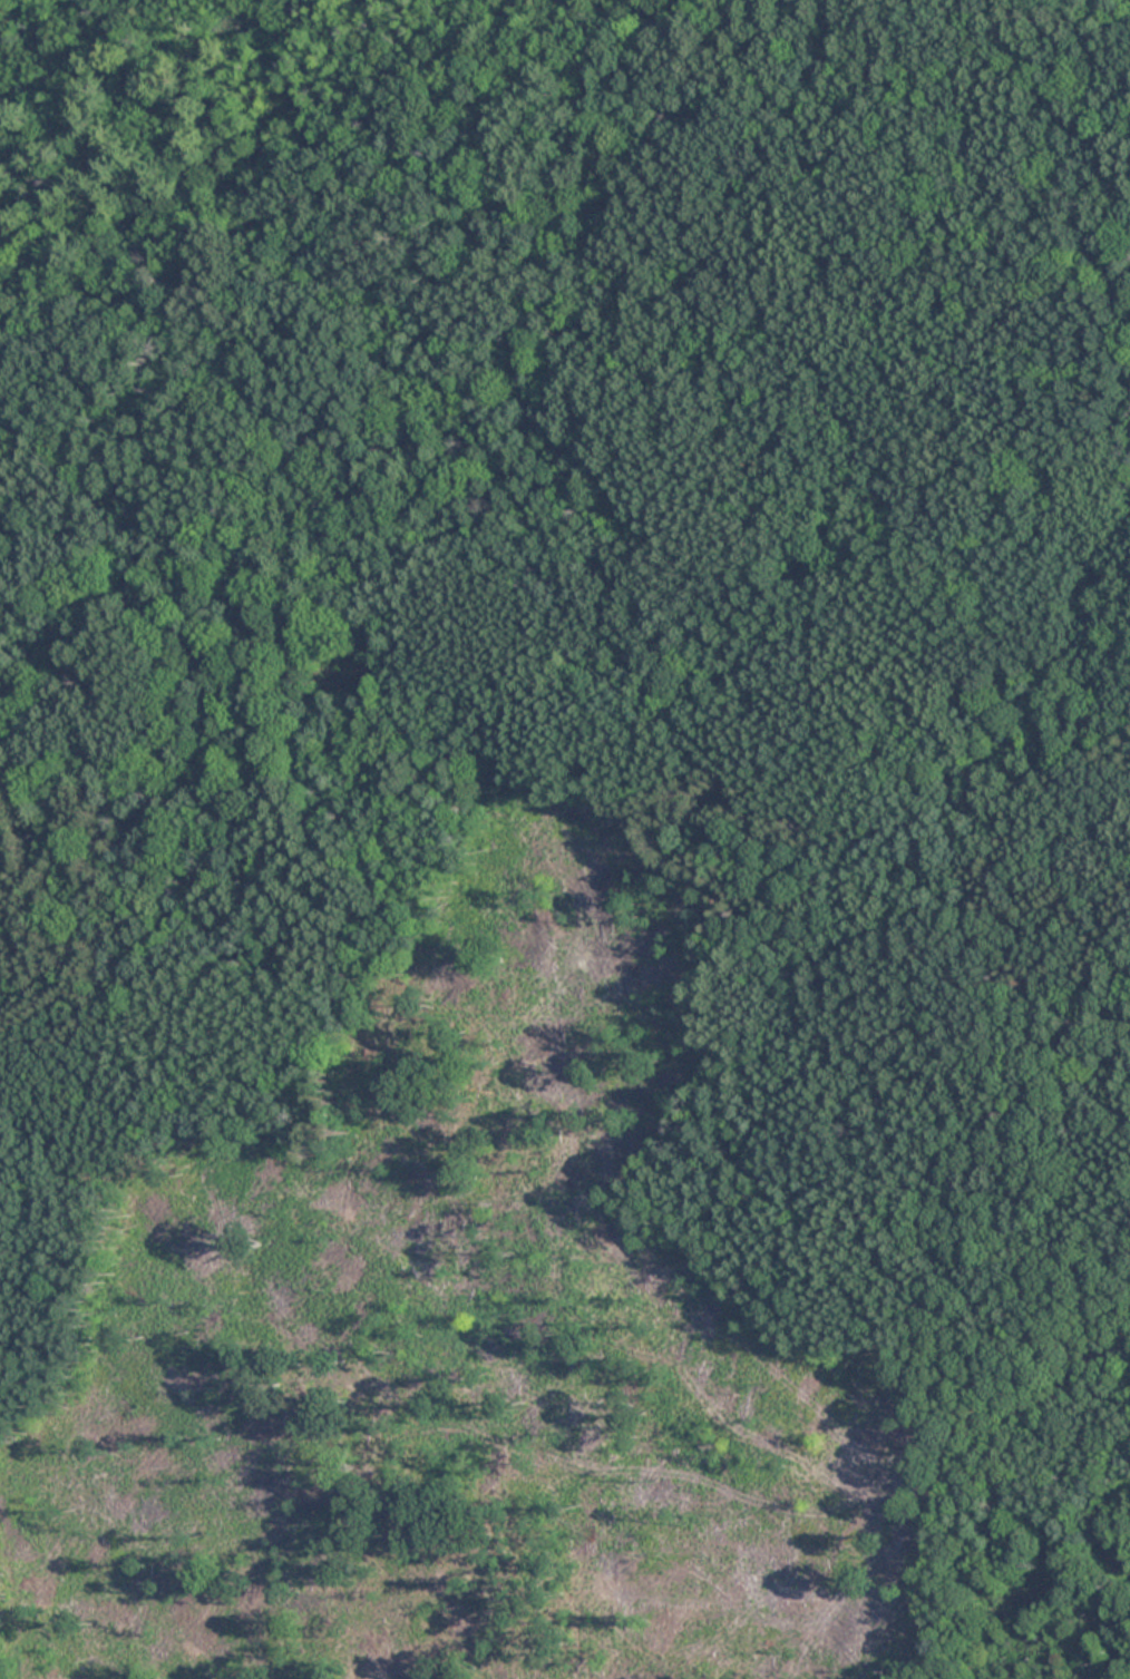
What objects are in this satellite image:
road: (571, 758)
park: (565, 839)

